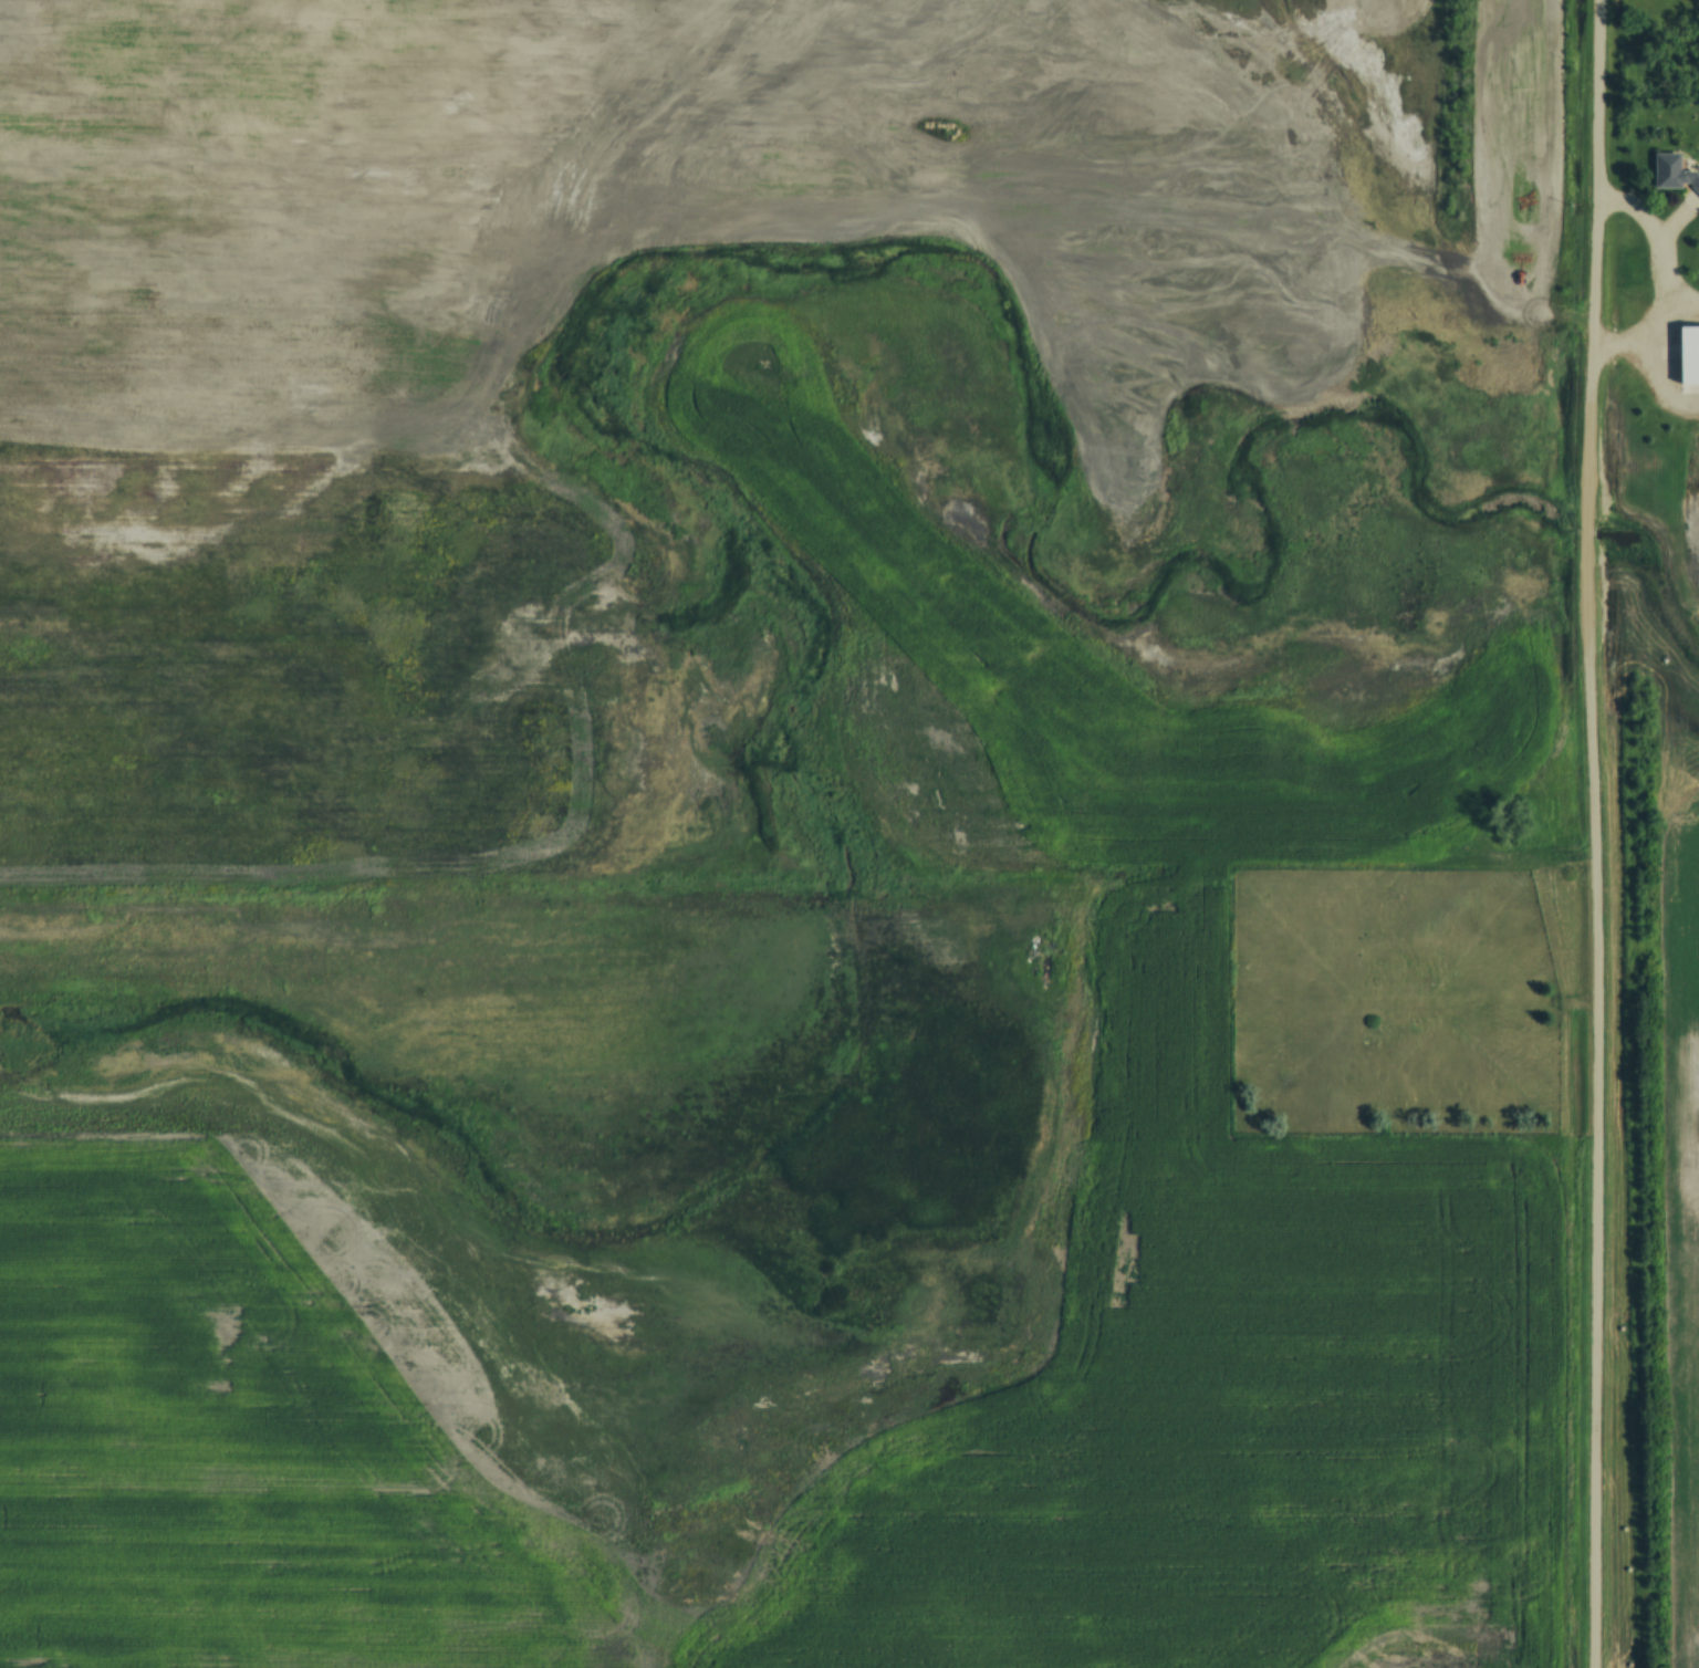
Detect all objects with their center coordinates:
building: (1670, 173)
road: (1667, 283)
building: (1687, 355)
storage tank: (1668, 367)
road: (1599, 833)

